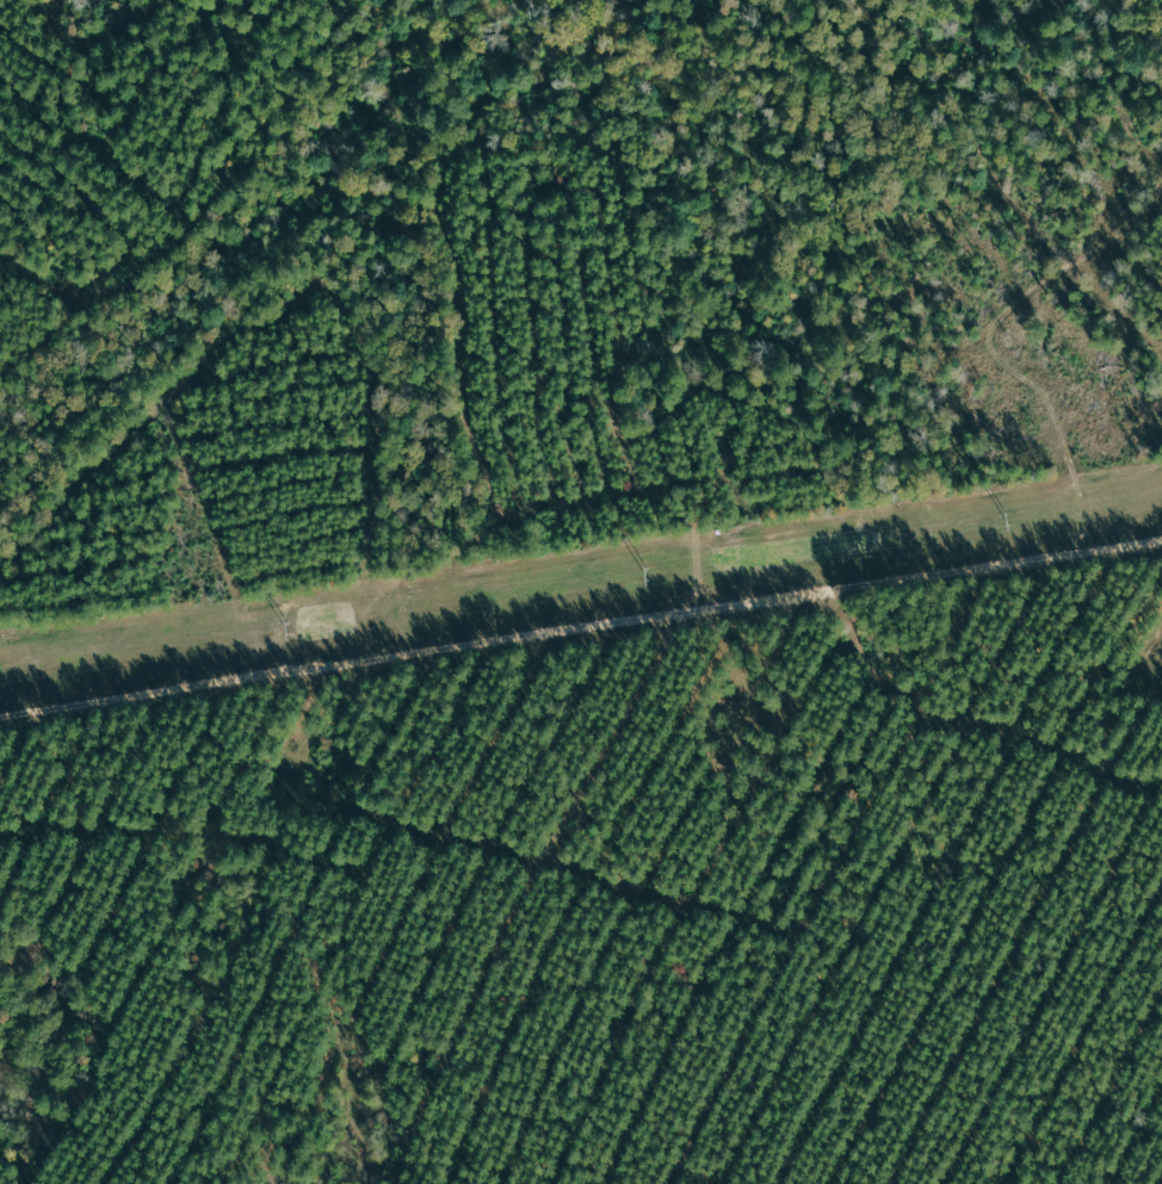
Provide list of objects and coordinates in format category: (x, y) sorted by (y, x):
power tower: (1006, 519)
power tower: (647, 575)
road: (577, 610)
power tower: (285, 630)

